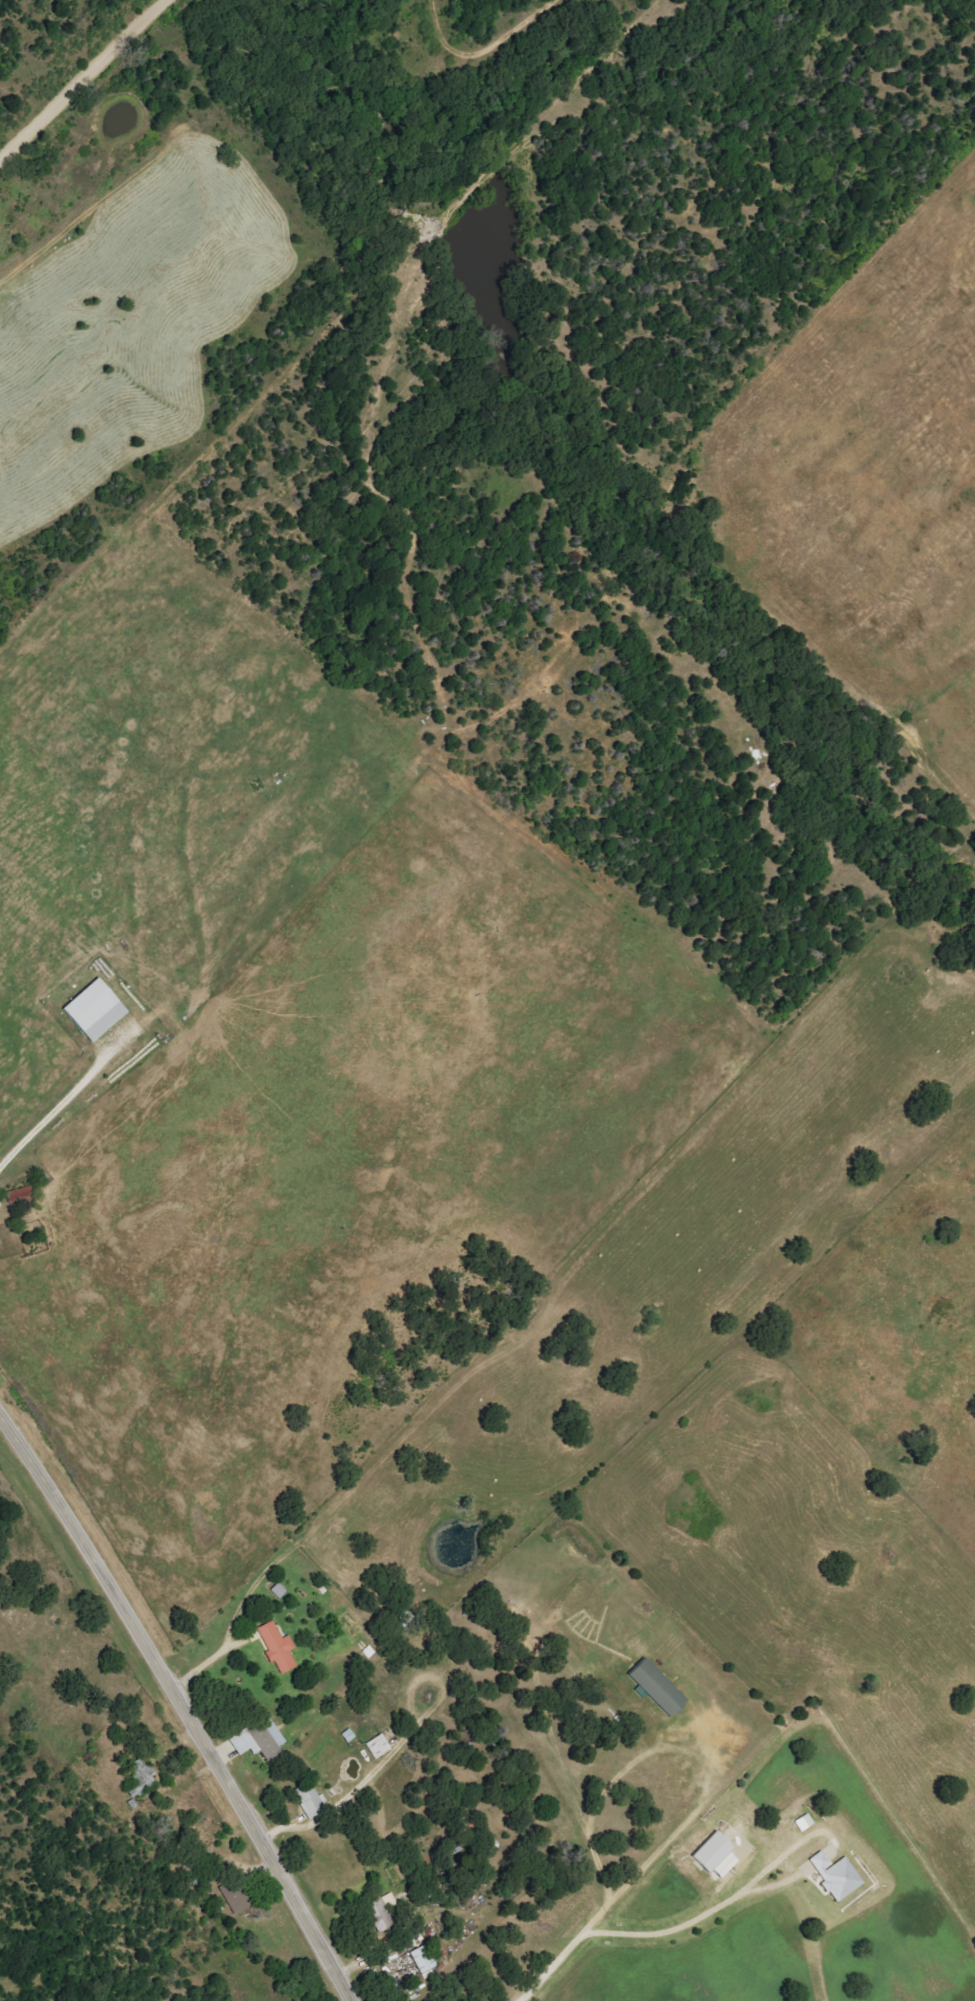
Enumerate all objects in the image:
road: (83, 78)
building: (93, 1010)
building: (278, 1590)
building: (276, 1645)
building: (654, 1686)
road: (180, 1705)
building: (347, 1735)
building: (258, 1737)
building: (376, 1746)
building: (309, 1800)
building: (714, 1855)
building: (807, 1868)
building: (836, 1875)
road: (725, 1904)
building: (379, 1910)
road: (592, 1924)
building: (422, 1958)

